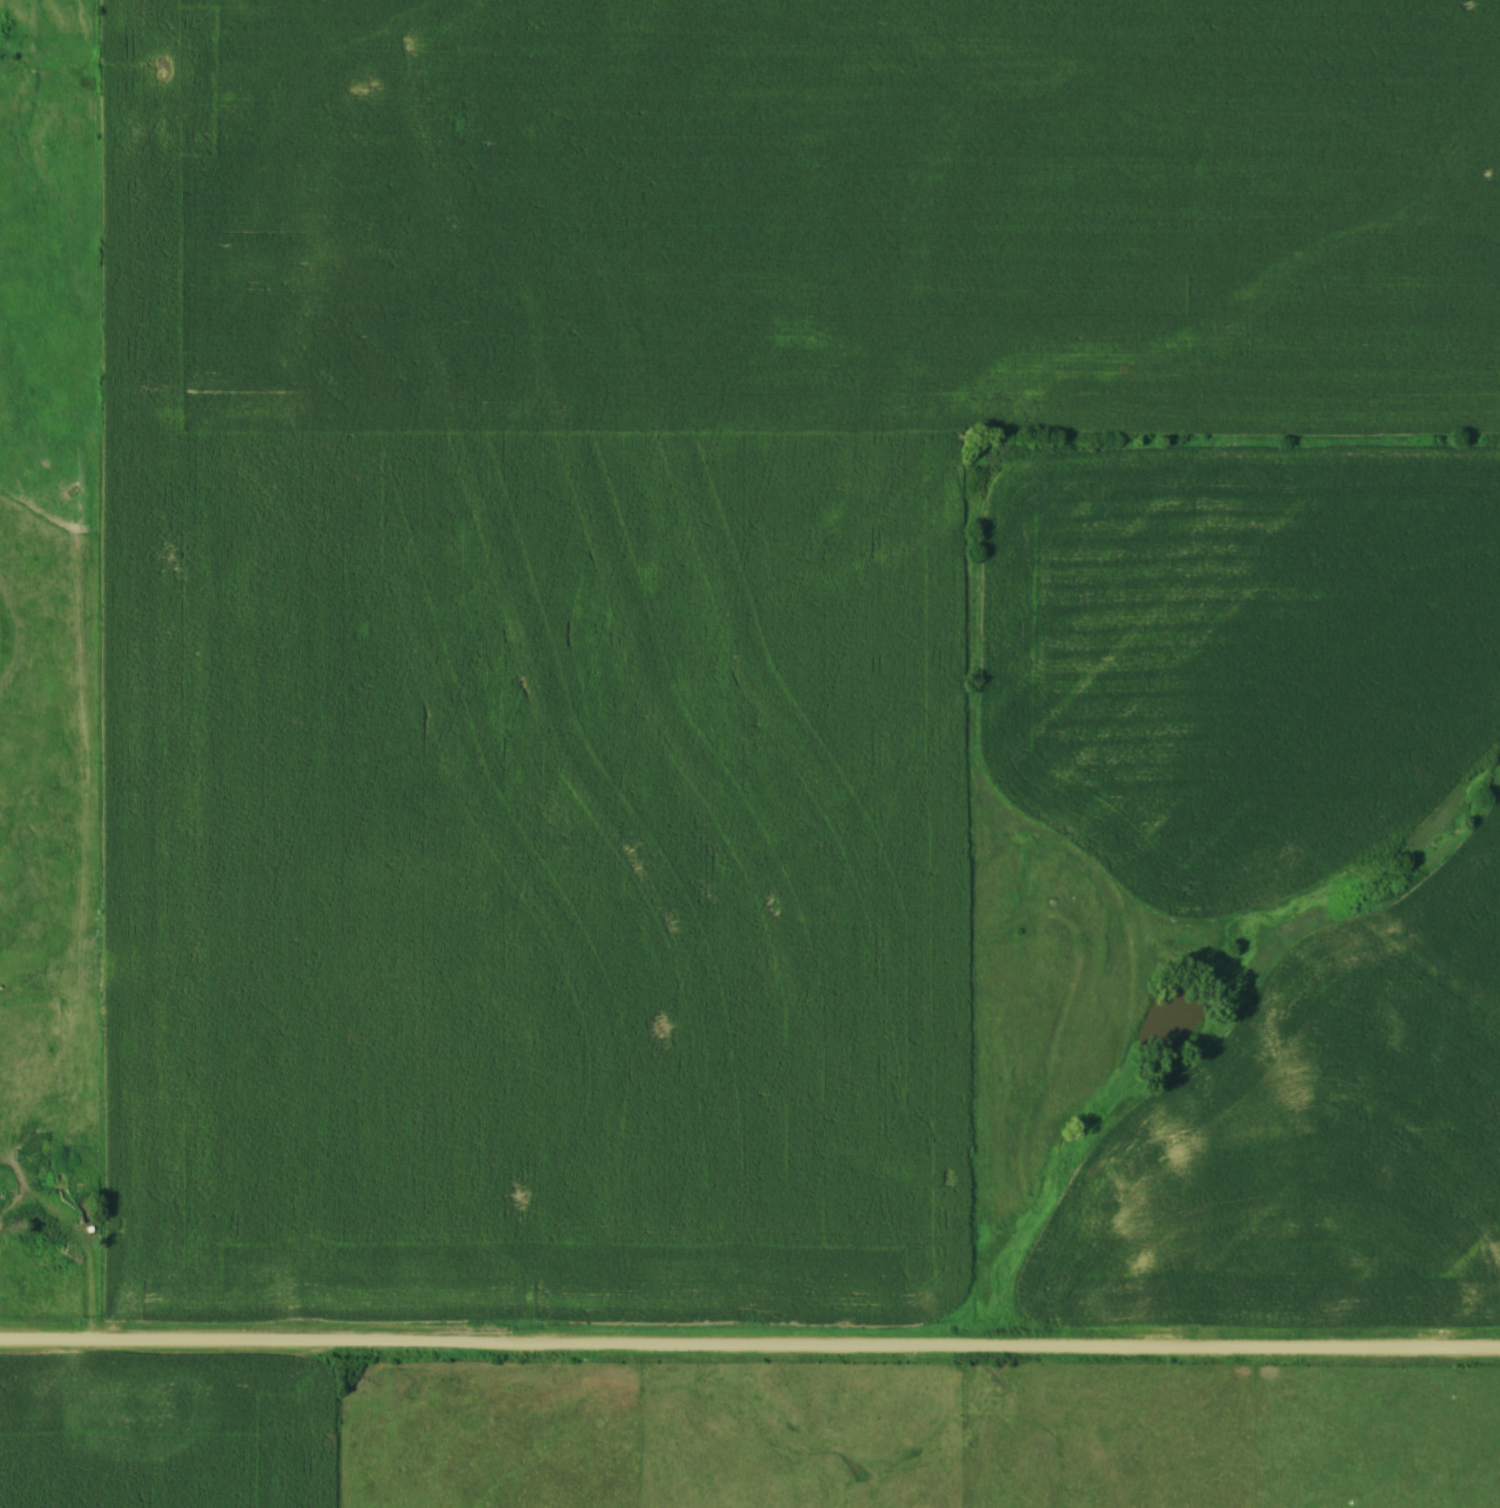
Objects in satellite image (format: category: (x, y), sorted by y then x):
building: (32, 1143)
road: (83, 1253)
road: (750, 1344)

